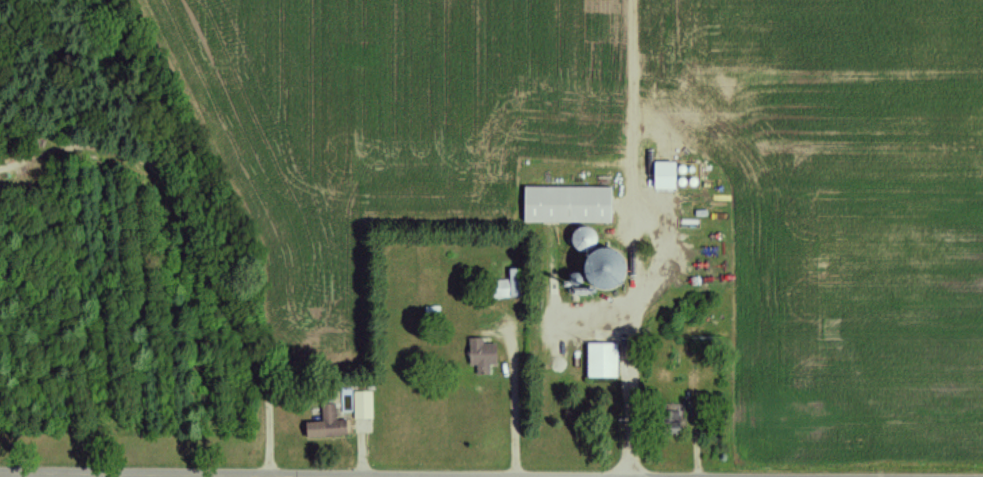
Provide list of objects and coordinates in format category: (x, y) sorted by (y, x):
road: (632, 93)
building: (658, 175)
building: (562, 204)
building: (577, 237)
road: (198, 244)
building: (593, 268)
building: (501, 286)
road: (632, 332)
building: (478, 354)
building: (597, 360)
building: (360, 405)
road: (507, 406)
building: (668, 421)
building: (322, 424)
road: (48, 475)
road: (133, 475)

